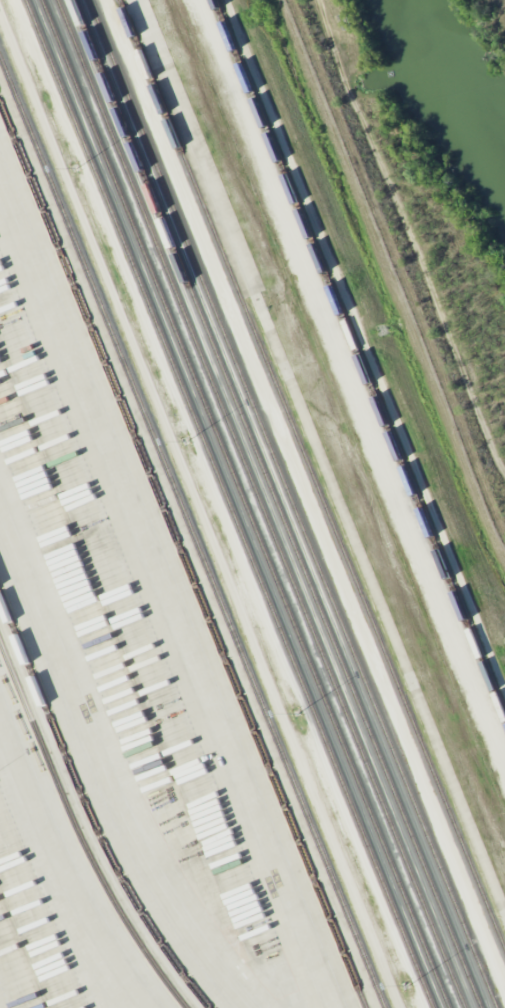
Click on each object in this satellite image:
railway: (359, 358)
railway: (313, 472)
railway: (260, 503)
railway: (231, 504)
railway: (245, 504)
railway: (276, 504)
railway: (293, 504)
railway: (183, 555)
railway: (172, 580)
railway: (163, 606)
railway: (88, 811)
railway: (79, 831)

